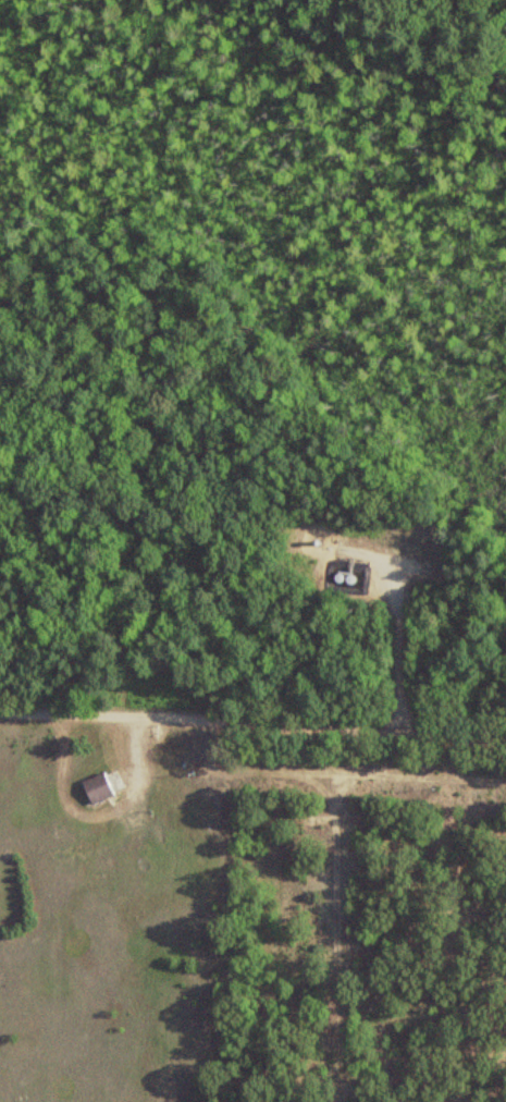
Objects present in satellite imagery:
road: (252, 725)
building: (95, 788)
building: (128, 809)
road: (337, 911)

